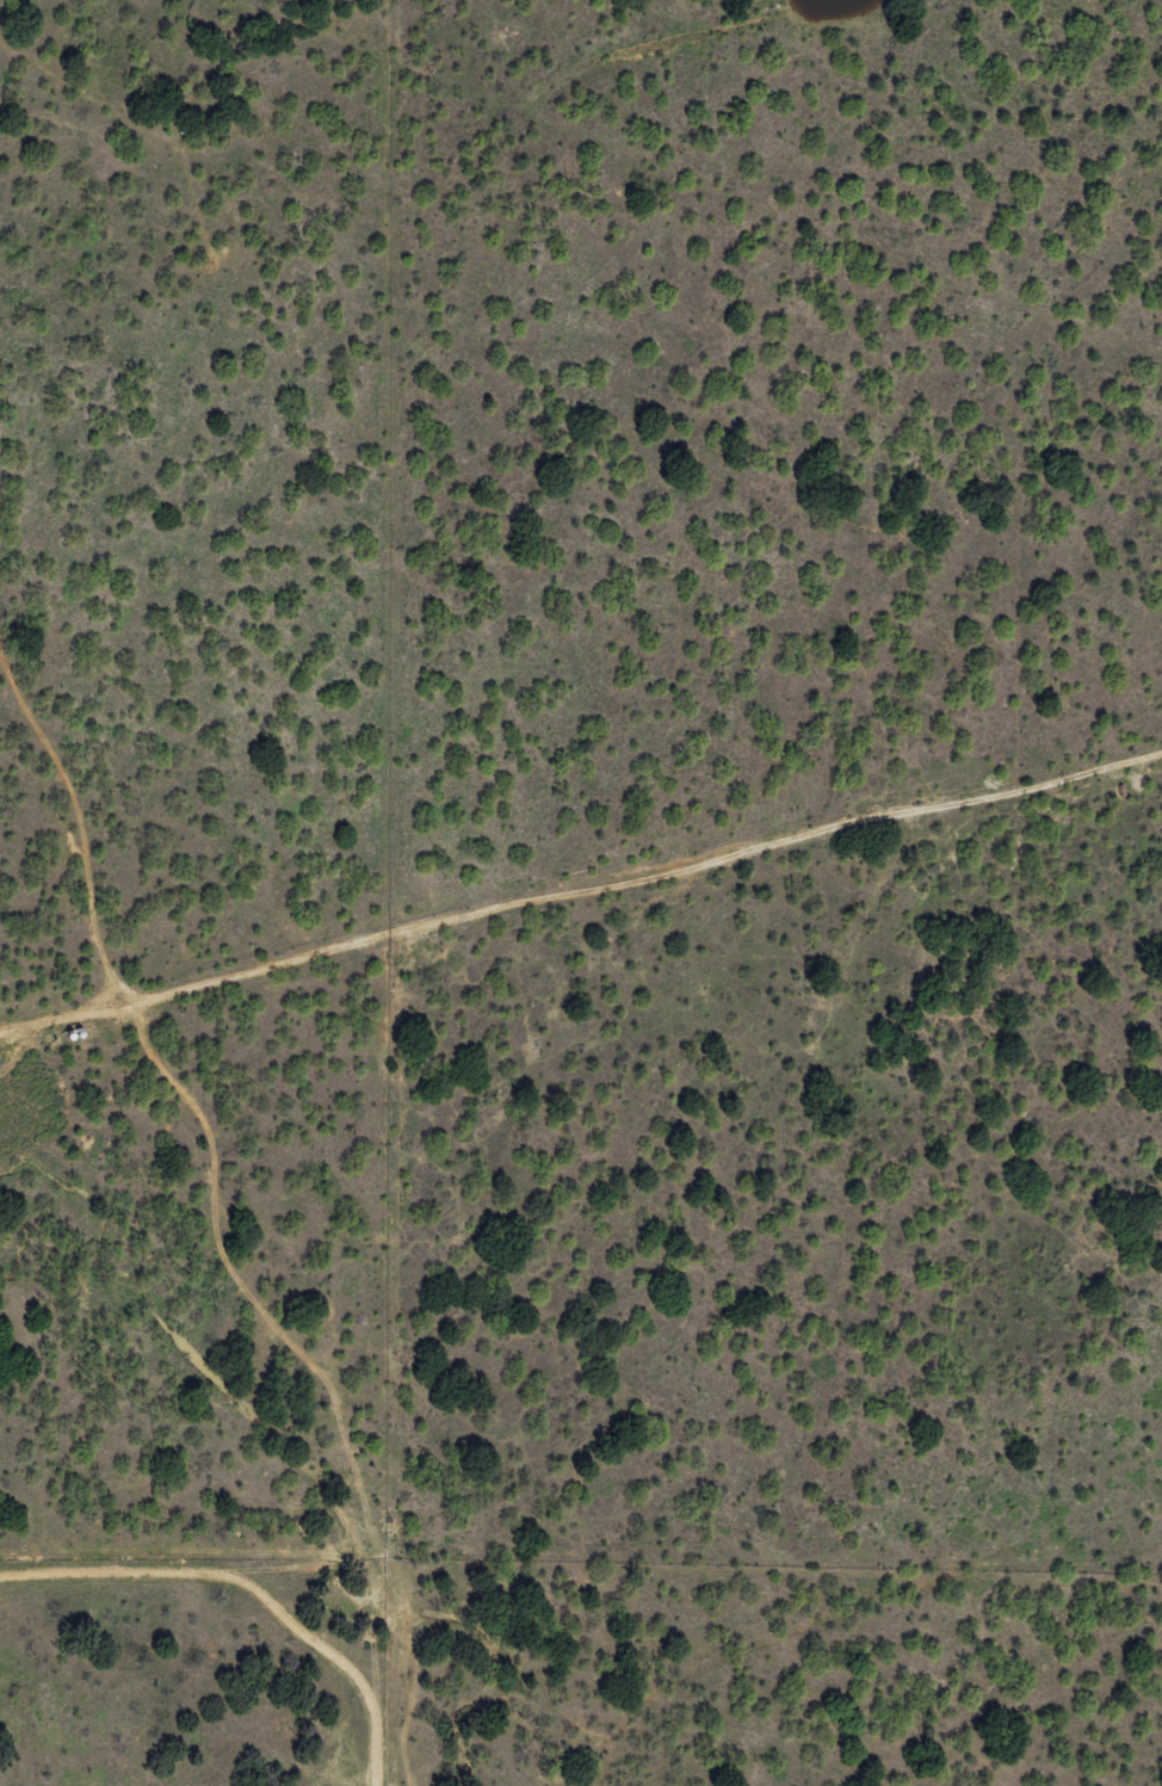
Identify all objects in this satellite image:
road: (579, 900)
road: (202, 1186)

